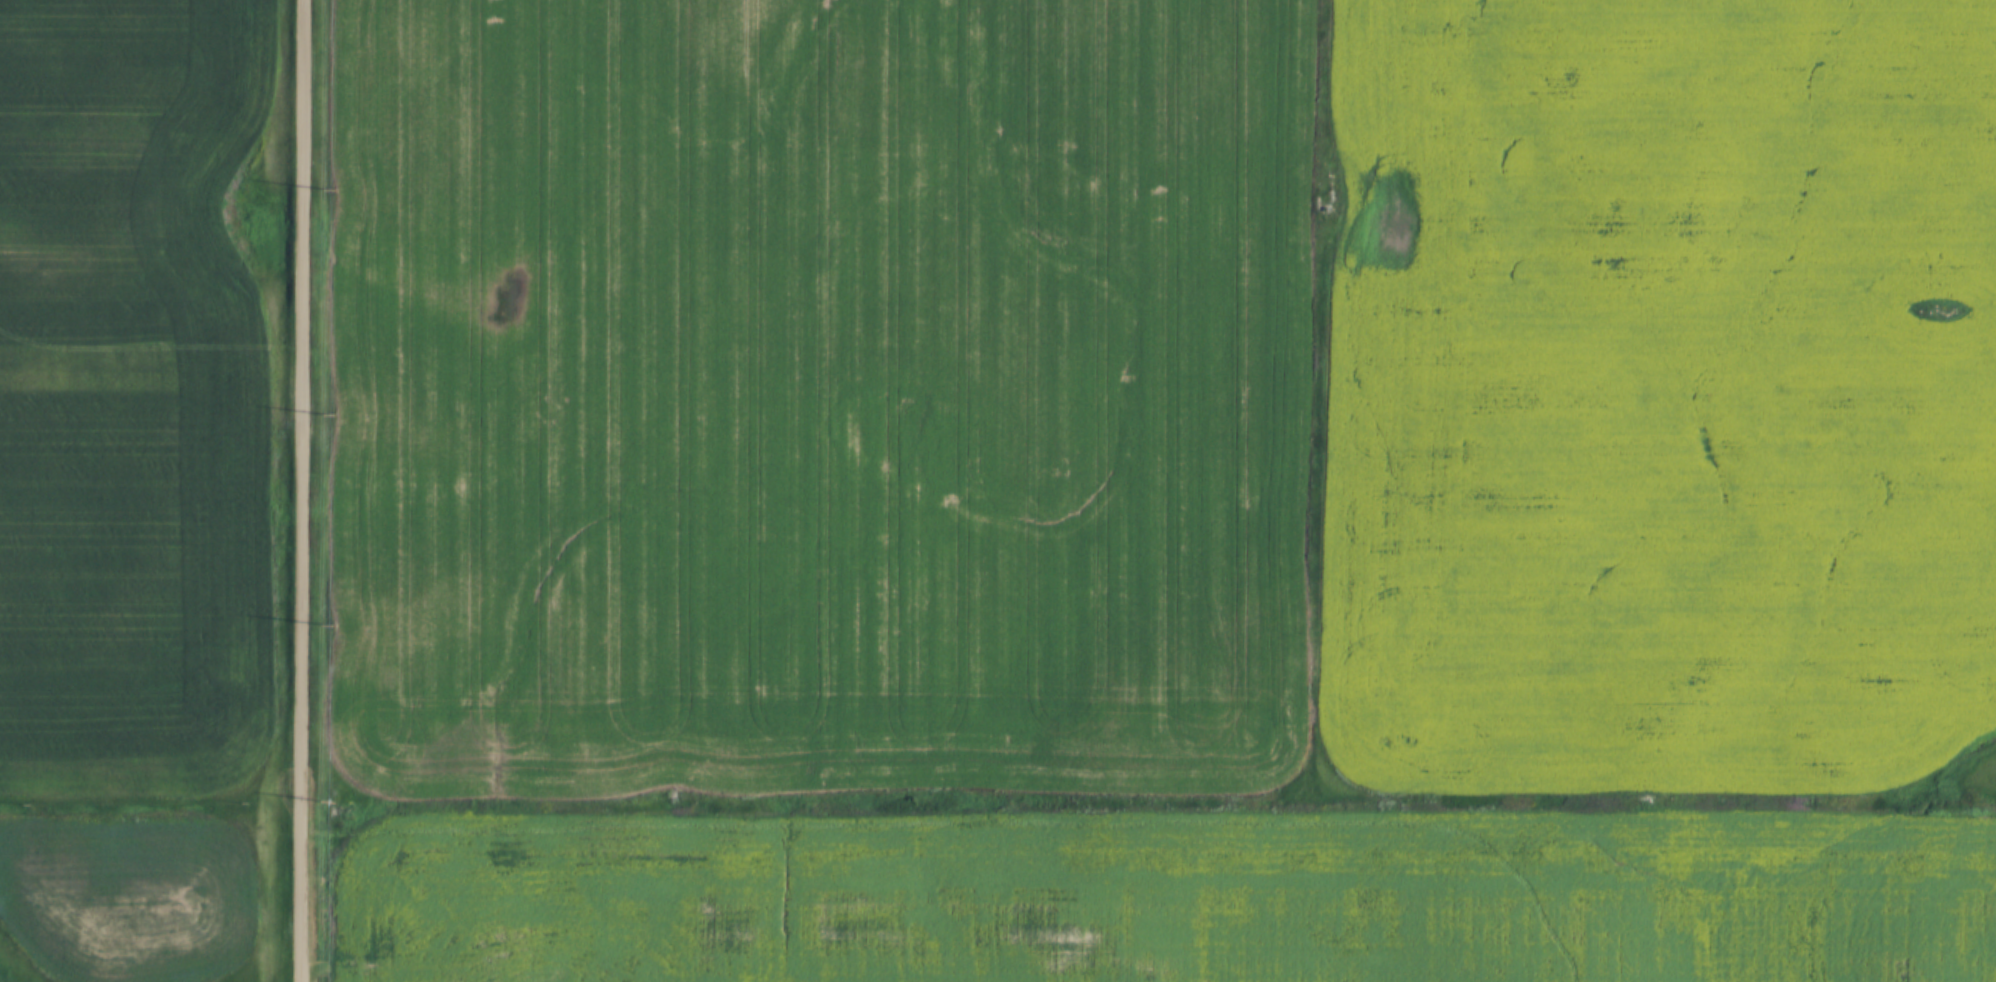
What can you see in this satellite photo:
road: (304, 491)

